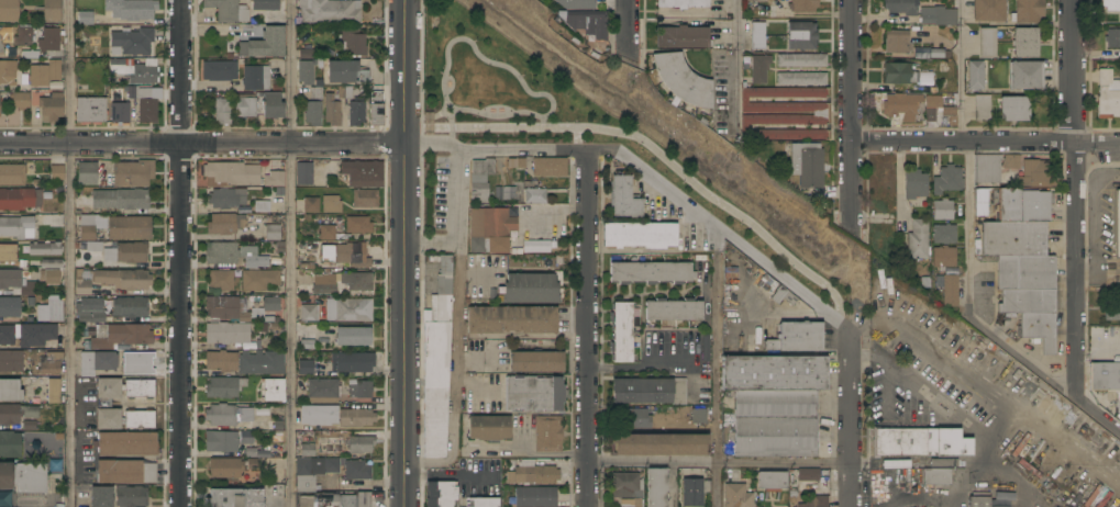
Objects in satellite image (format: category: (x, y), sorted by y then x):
building: (756, 0)
building: (681, 3)
building: (265, 4)
building: (577, 4)
building: (1110, 4)
building: (803, 5)
building: (901, 7)
building: (131, 9)
building: (9, 10)
building: (988, 10)
building: (51, 11)
building: (228, 11)
building: (330, 11)
building: (1028, 11)
building: (940, 13)
building: (85, 19)
building: (589, 23)
road: (626, 24)
building: (757, 35)
building: (801, 35)
building: (23, 36)
building: (2, 37)
building: (681, 37)
building: (1112, 38)
building: (48, 41)
building: (133, 41)
building: (353, 42)
building: (897, 42)
building: (987, 43)
building: (1025, 43)
building: (264, 44)
road: (475, 50)
building: (939, 54)
building: (801, 60)
building: (307, 66)
road: (738, 66)
building: (759, 68)
building: (136, 70)
building: (220, 70)
road: (961, 70)
road: (1072, 70)
road: (179, 71)
building: (8, 72)
building: (345, 72)
building: (899, 74)
building: (1025, 75)
building: (46, 76)
building: (976, 76)
building: (256, 77)
building: (801, 79)
building: (683, 80)
building: (1108, 97)
building: (20, 100)
building: (145, 102)
building: (354, 103)
building: (245, 105)
building: (271, 105)
building: (901, 106)
building: (51, 108)
building: (313, 108)
building: (982, 108)
building: (375, 109)
building: (1014, 109)
building: (90, 110)
building: (332, 110)
building: (222, 112)
building: (120, 113)
road: (480, 113)
building: (819, 114)
road: (851, 114)
building: (930, 115)
road: (421, 122)
road: (577, 138)
road: (962, 140)
road: (430, 142)
road: (1097, 142)
road: (89, 143)
road: (290, 143)
road: (536, 150)
road: (662, 157)
building: (1011, 161)
building: (807, 165)
building: (550, 167)
building: (987, 168)
building: (57, 172)
building: (87, 173)
building: (133, 173)
building: (304, 173)
building: (363, 173)
building: (1036, 173)
building: (12, 174)
building: (230, 174)
building: (273, 179)
building: (480, 180)
building: (947, 180)
building: (914, 183)
building: (503, 193)
building: (535, 196)
building: (226, 198)
building: (20, 199)
building: (365, 199)
building: (624, 199)
building: (120, 200)
building: (979, 202)
building: (331, 204)
building: (311, 205)
building: (1021, 205)
building: (942, 210)
road: (457, 223)
building: (1117, 223)
building: (225, 224)
building: (358, 225)
building: (15, 226)
building: (125, 227)
building: (87, 228)
road: (967, 228)
building: (489, 230)
building: (273, 233)
building: (326, 233)
building: (944, 234)
building: (640, 235)
building: (1013, 239)
road: (733, 240)
building: (918, 240)
railway: (807, 243)
building: (536, 246)
building: (44, 249)
road: (69, 252)
road: (290, 252)
road: (403, 252)
building: (8, 253)
building: (132, 253)
building: (221, 253)
building: (344, 256)
building: (944, 257)
building: (256, 262)
building: (51, 263)
road: (1074, 269)
building: (651, 273)
building: (49, 277)
building: (112, 280)
building: (259, 280)
building: (221, 281)
building: (342, 282)
building: (18, 284)
building: (531, 289)
building: (950, 291)
building: (1029, 295)
building: (267, 306)
building: (10, 307)
building: (130, 307)
building: (1112, 308)
building: (225, 309)
building: (51, 311)
building: (353, 311)
building: (674, 311)
building: (89, 312)
building: (309, 313)
building: (511, 319)
road: (179, 325)
road: (586, 328)
building: (226, 333)
building: (621, 333)
building: (36, 335)
building: (7, 336)
building: (118, 337)
building: (353, 337)
building: (796, 337)
building: (308, 345)
building: (706, 348)
road: (501, 352)
building: (1096, 356)
road: (1020, 357)
building: (11, 361)
building: (221, 361)
building: (97, 362)
building: (354, 362)
building: (535, 362)
building: (49, 363)
building: (137, 363)
building: (258, 363)
building: (436, 363)
road: (883, 365)
road: (652, 367)
building: (306, 368)
road: (716, 368)
building: (774, 373)
road: (454, 374)
building: (1106, 379)
building: (224, 387)
building: (140, 388)
building: (323, 388)
road: (973, 388)
building: (273, 390)
building: (362, 390)
building: (10, 391)
building: (650, 391)
building: (54, 392)
building: (533, 394)
building: (108, 403)
building: (16, 414)
building: (228, 415)
building: (319, 415)
road: (1097, 415)
building: (698, 417)
building: (355, 418)
building: (632, 419)
road: (850, 419)
building: (140, 420)
building: (774, 424)
building: (489, 428)
building: (548, 433)
building: (221, 441)
building: (247, 442)
building: (307, 443)
building: (919, 443)
building: (10, 444)
building: (126, 444)
building: (361, 444)
building: (659, 444)
building: (332, 446)
building: (252, 453)
road: (528, 454)
road: (651, 459)
road: (781, 462)
building: (943, 463)
building: (253, 465)
building: (225, 467)
building: (356, 470)
building: (313, 471)
building: (125, 473)
building: (532, 473)
building: (808, 474)
road: (451, 475)
building: (936, 476)
building: (23, 477)
building: (772, 481)
building: (626, 485)
building: (656, 487)
building: (691, 493)
building: (441, 494)
building: (118, 496)
building: (736, 496)
building: (535, 497)
building: (235, 498)
building: (339, 500)
building: (817, 502)
building: (978, 502)
building: (484, 503)
building: (630, 503)

